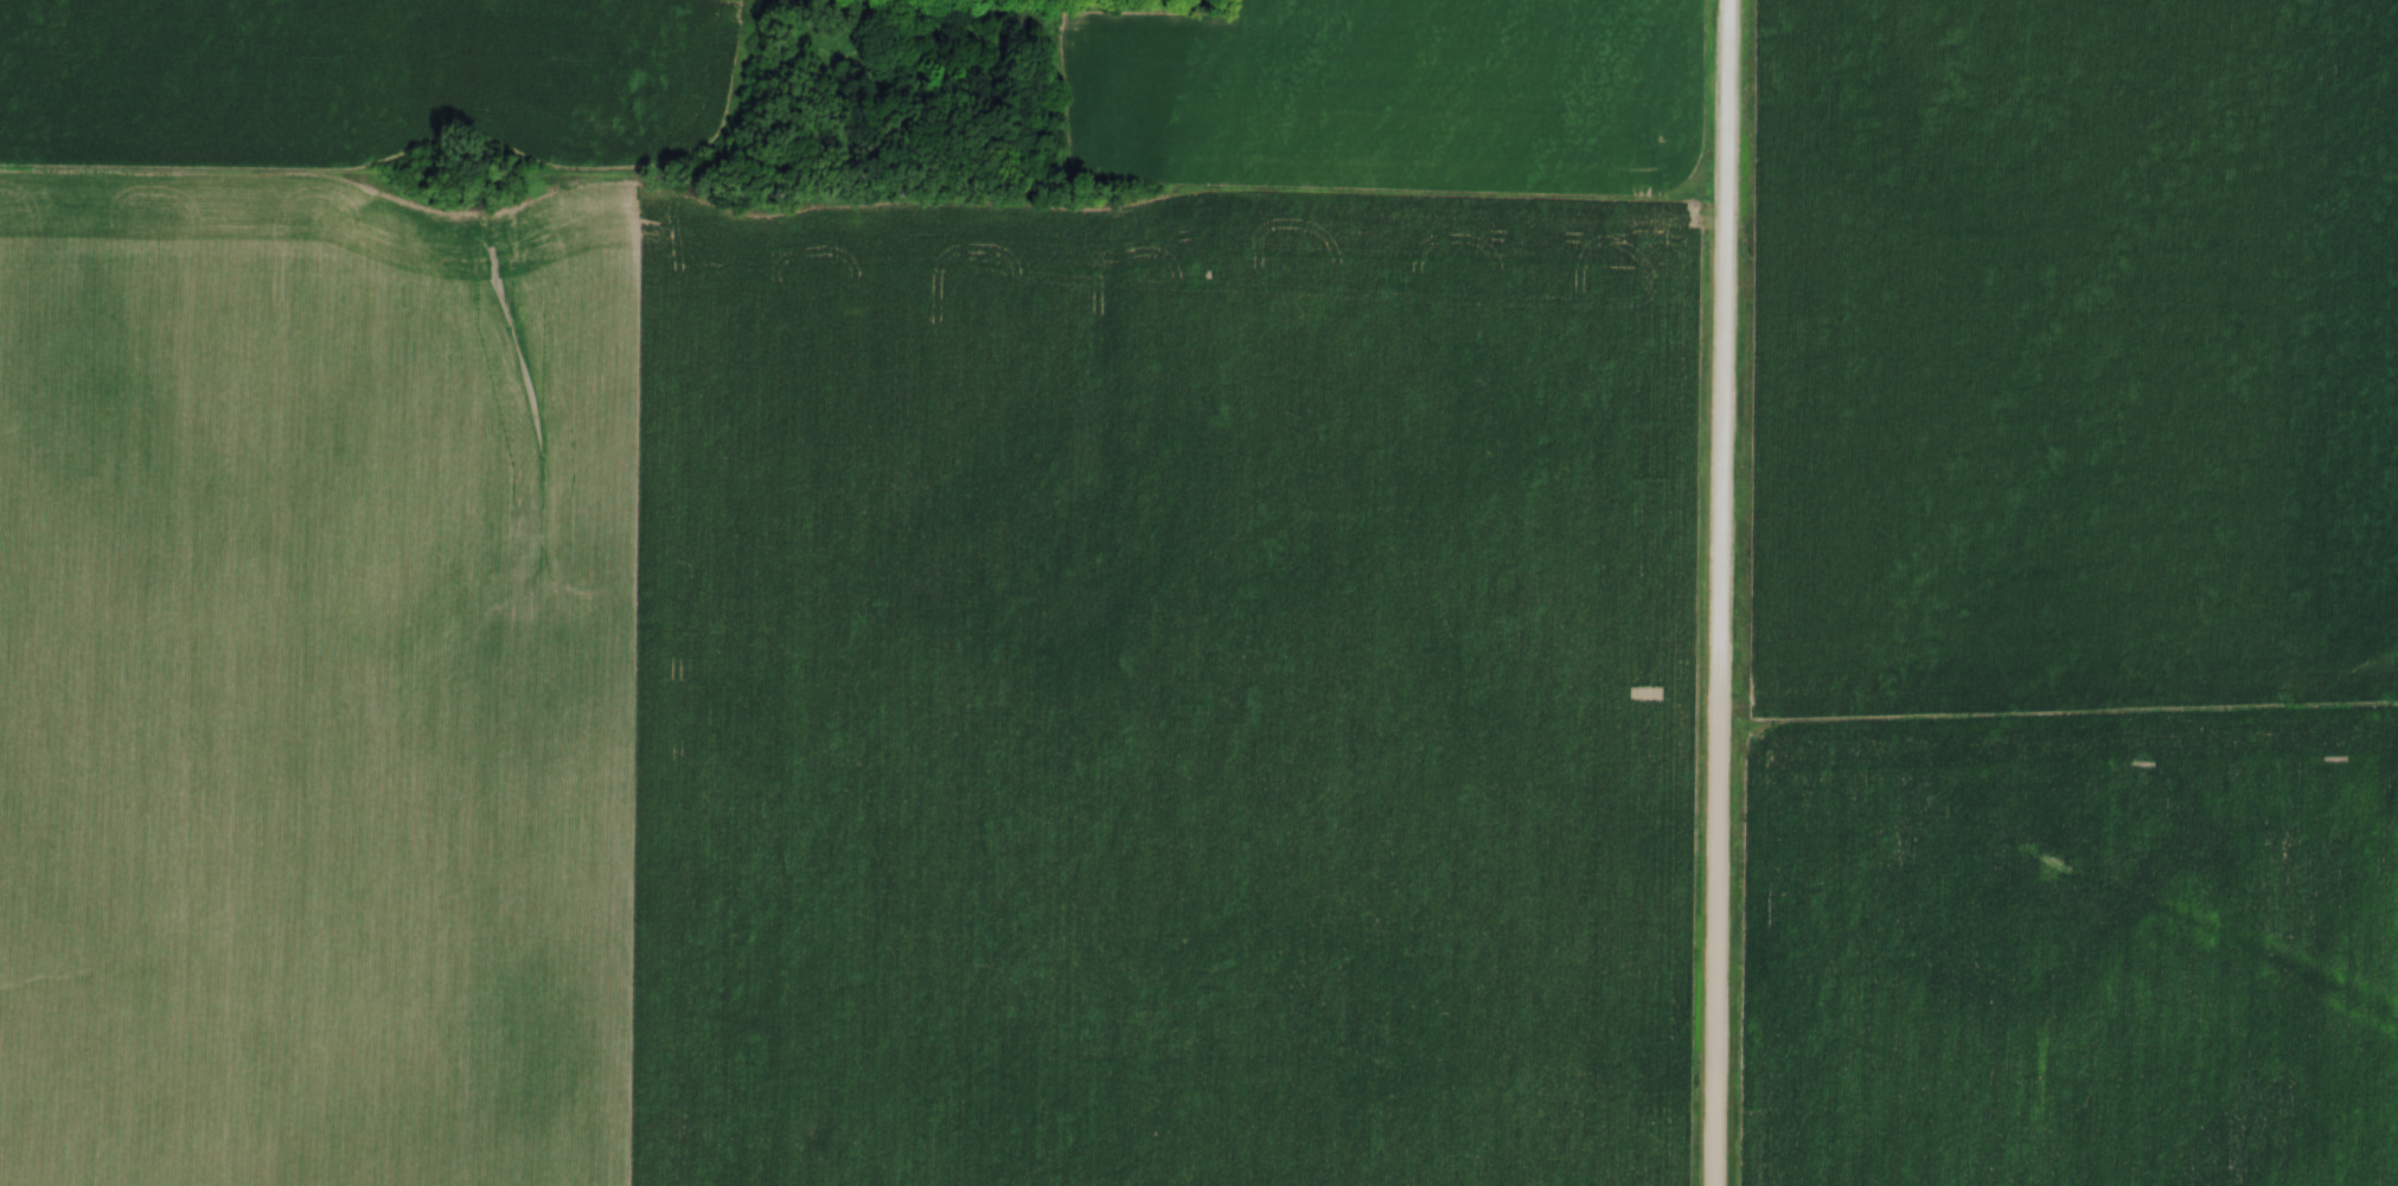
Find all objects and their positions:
road: (1719, 592)

